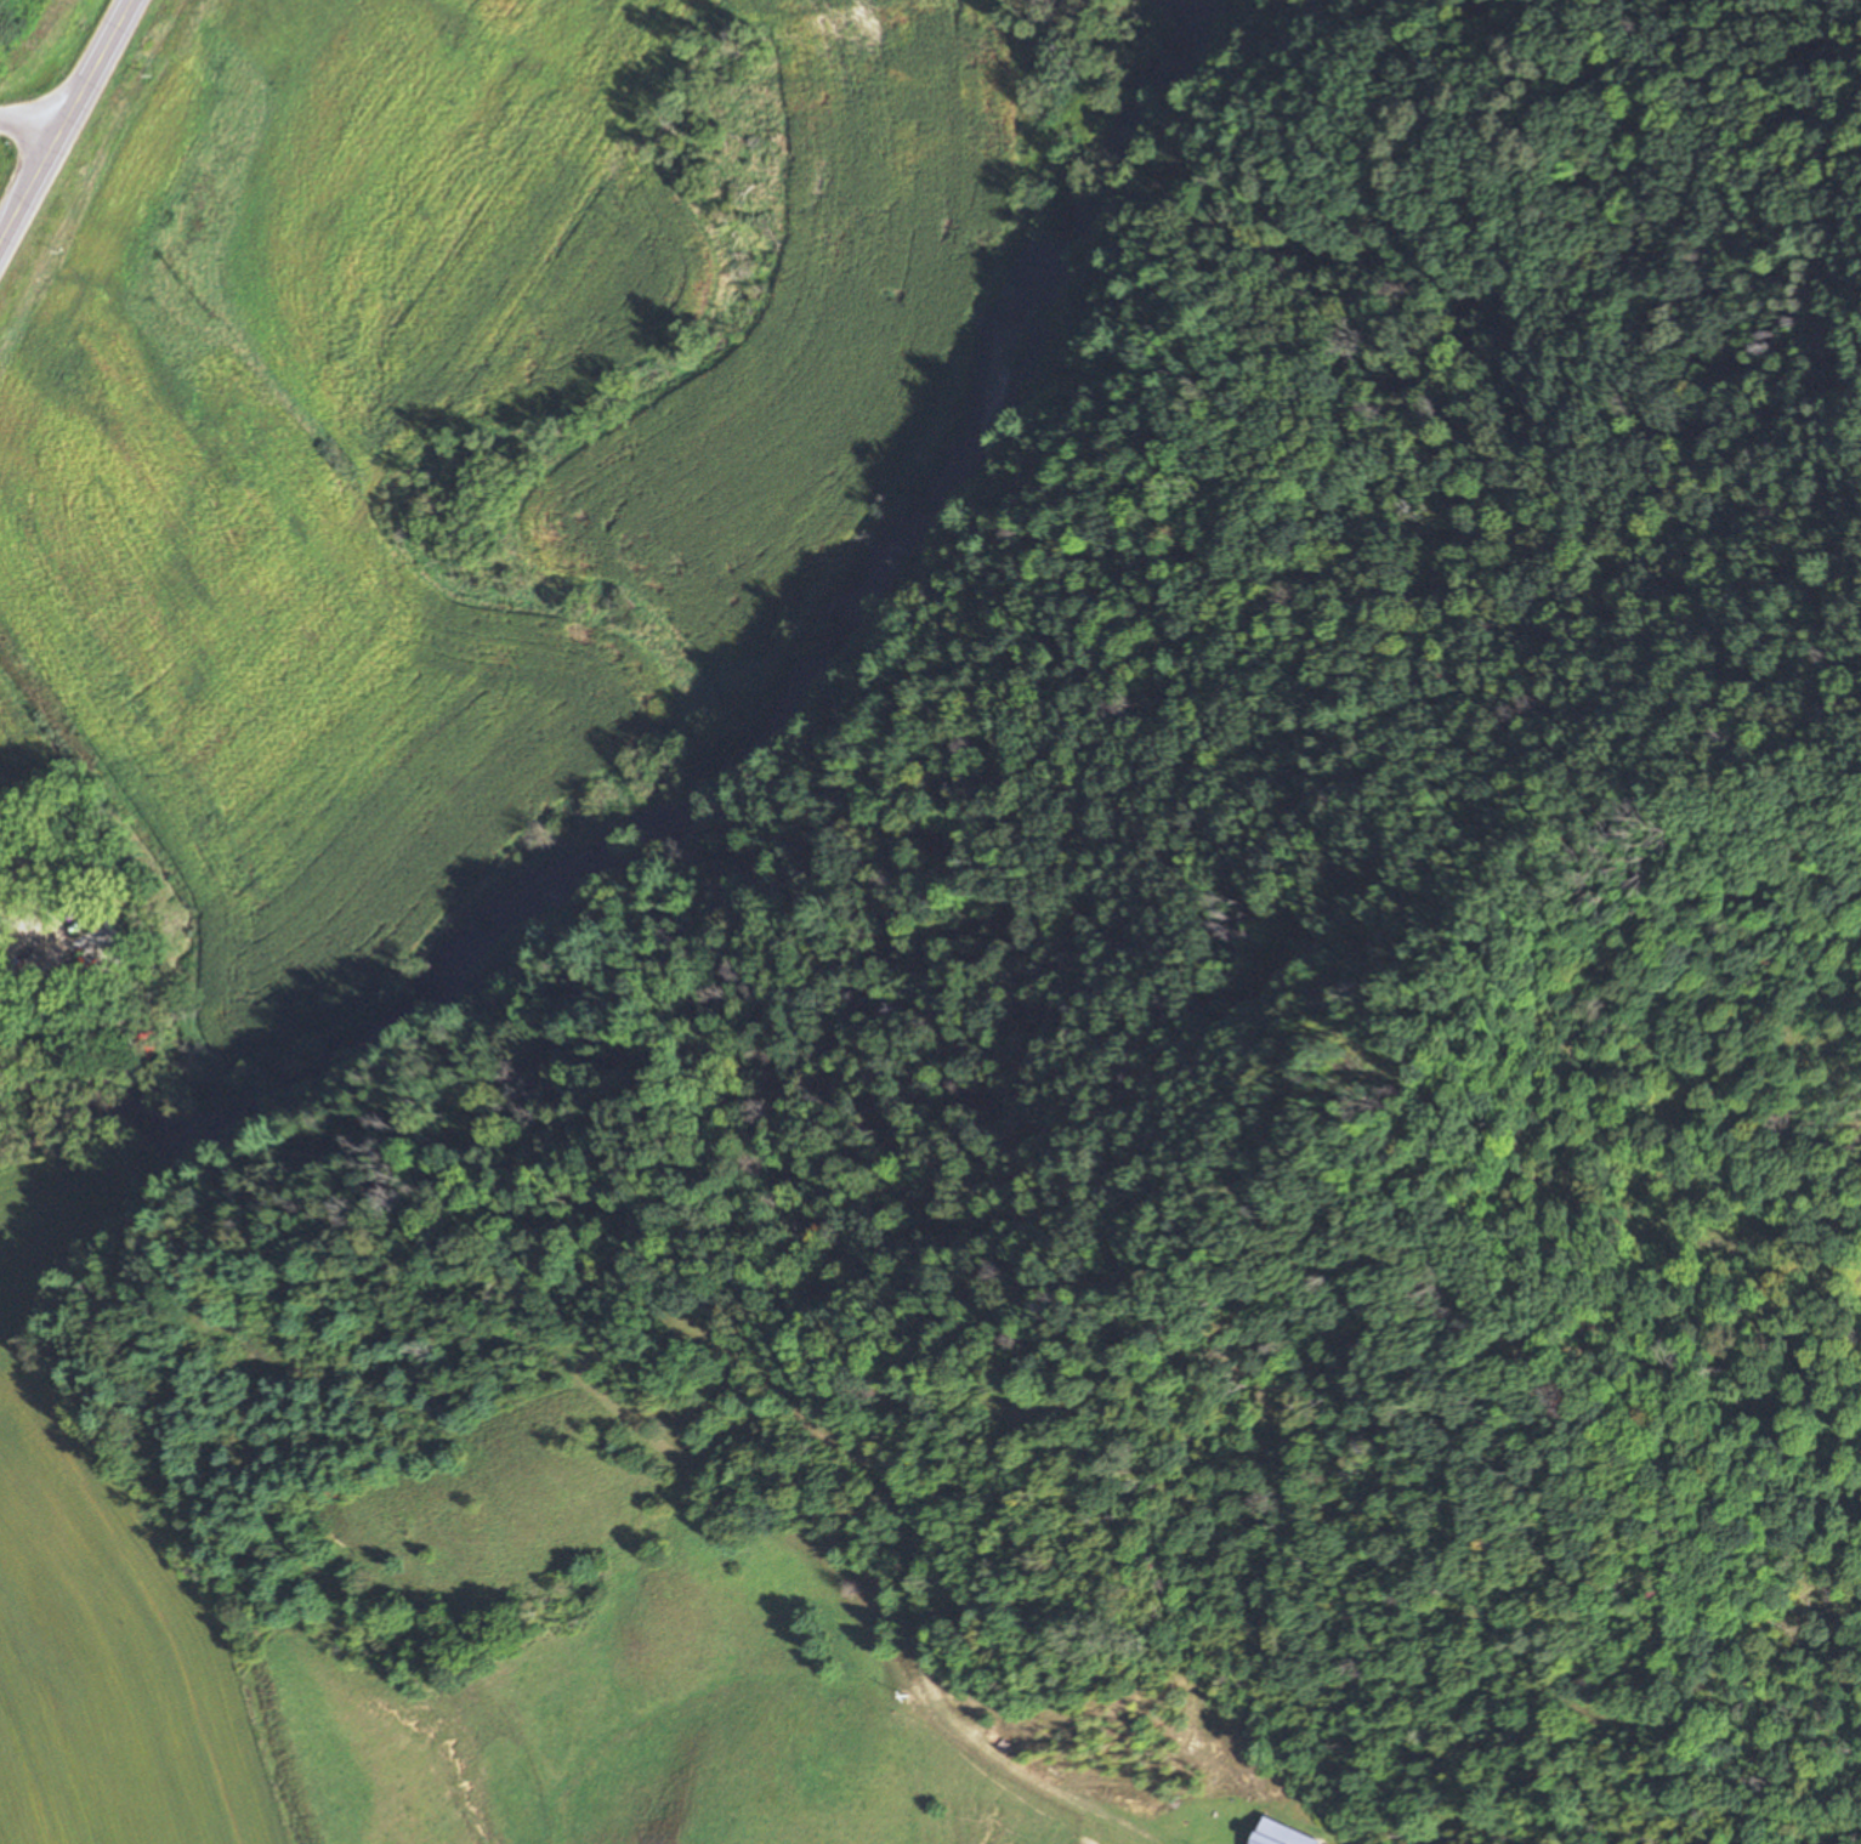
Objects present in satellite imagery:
road: (34, 120)
road: (64, 124)
river: (761, 760)
building: (1280, 1834)

